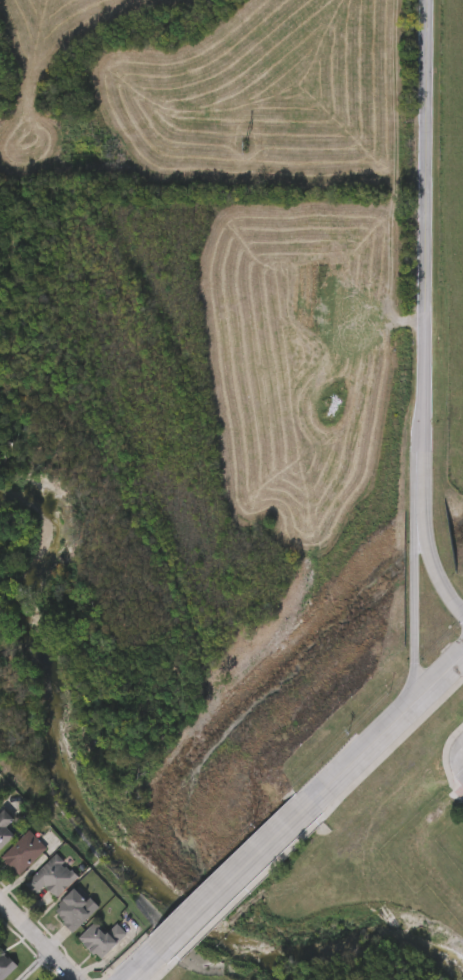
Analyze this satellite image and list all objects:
road: (424, 311)
road: (414, 560)
road: (438, 680)
road: (362, 753)
road: (460, 757)
building: (4, 828)
building: (23, 853)
road: (241, 872)
building: (51, 877)
park: (360, 879)
park: (363, 882)
building: (74, 910)
building: (100, 938)
road: (37, 940)
road: (150, 960)
road: (28, 964)
building: (6, 965)

